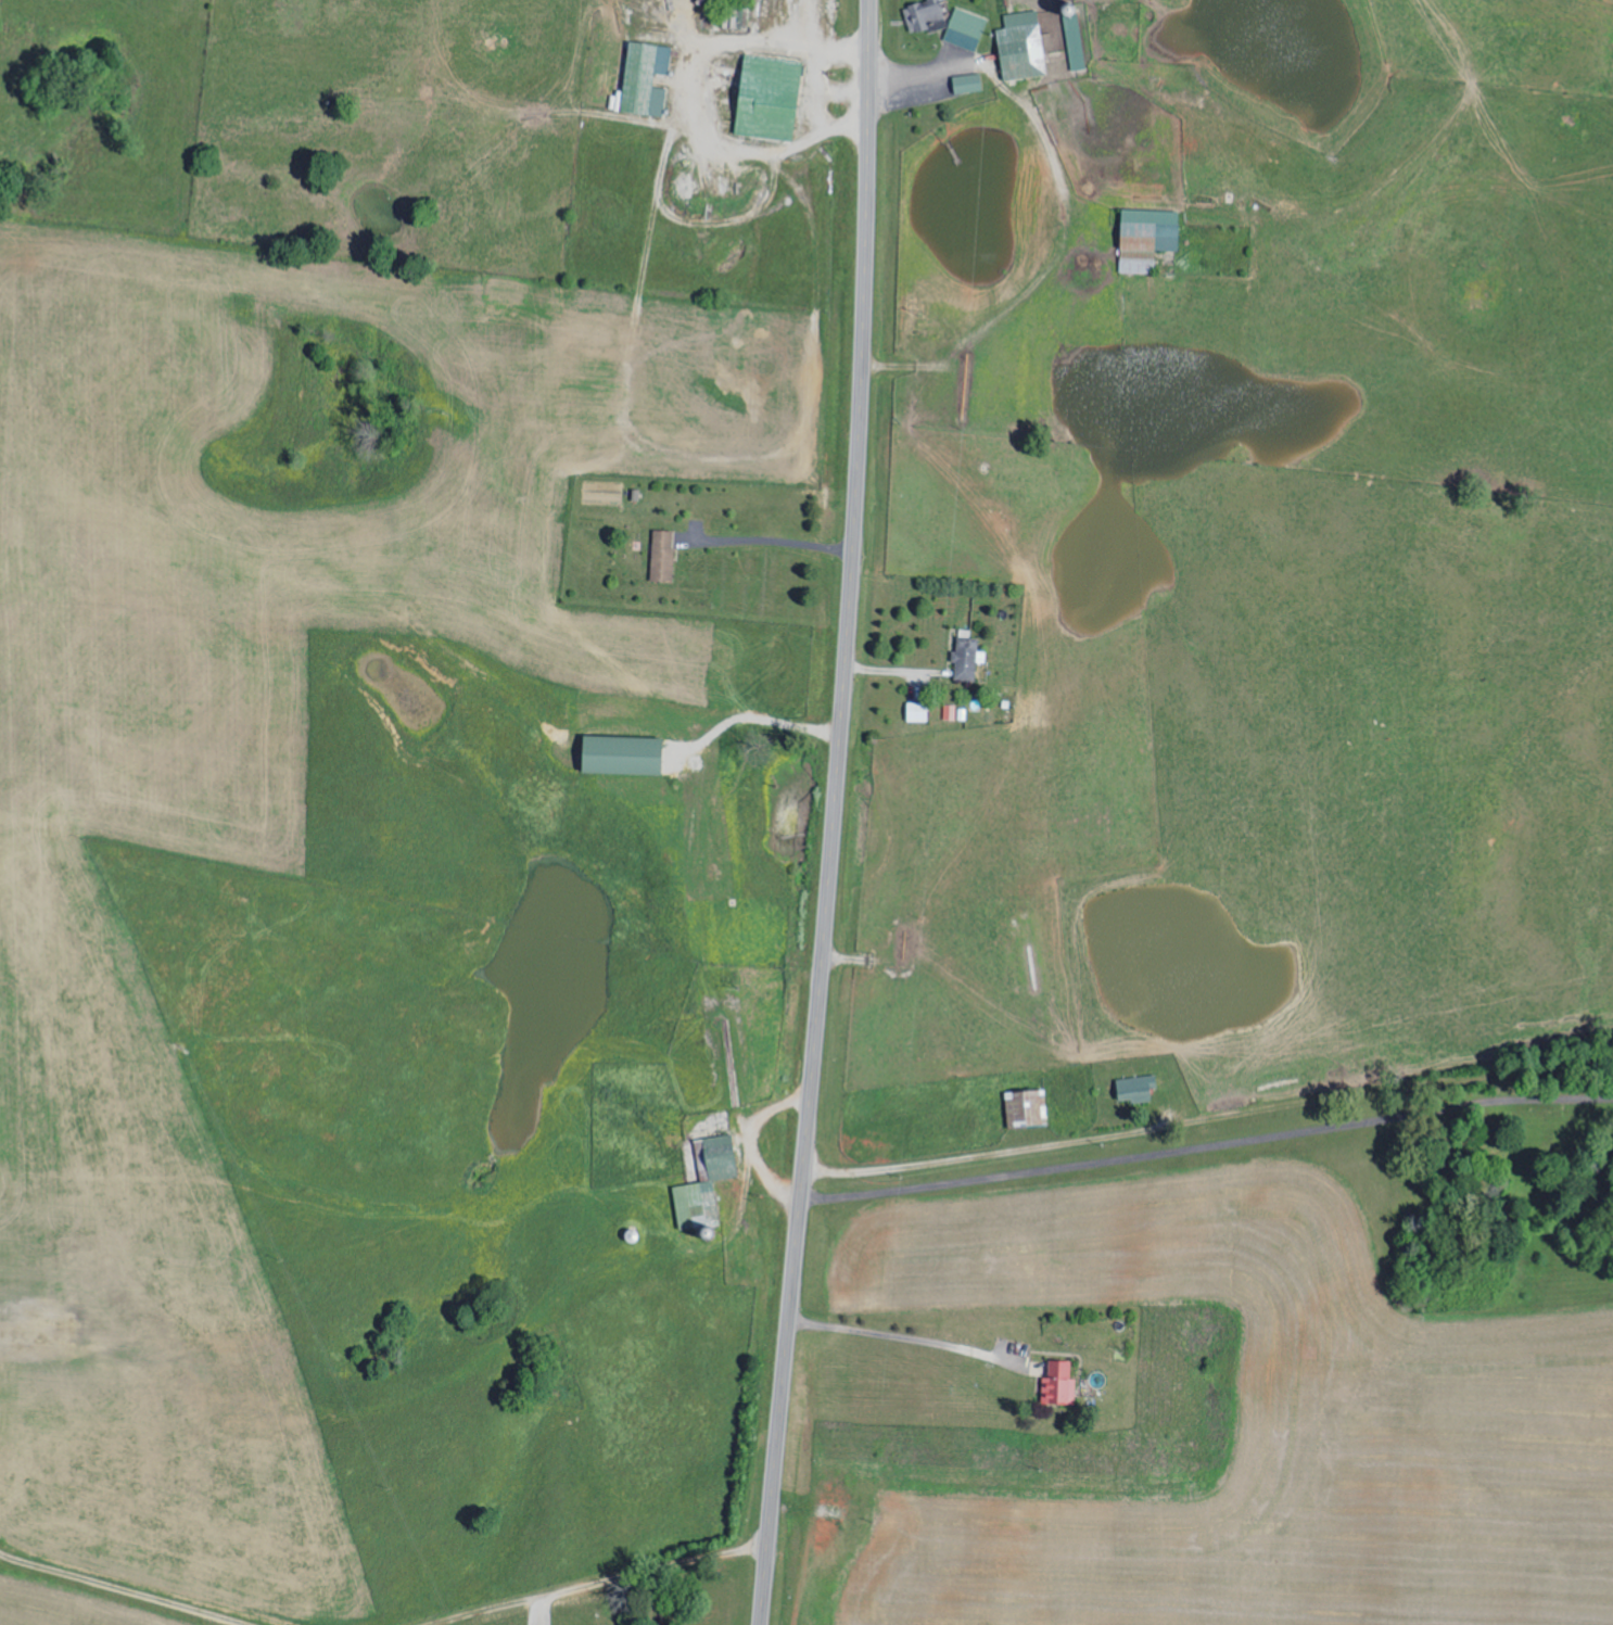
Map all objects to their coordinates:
building: (927, 16)
building: (966, 29)
building: (1024, 46)
building: (647, 78)
building: (969, 84)
building: (771, 98)
building: (1150, 238)
building: (663, 555)
building: (968, 657)
building: (919, 710)
building: (951, 711)
building: (626, 753)
road: (835, 813)
building: (1135, 1088)
building: (1028, 1106)
building: (708, 1181)
road: (1106, 1206)
building: (1060, 1383)
road: (37, 1422)
road: (646, 1601)

